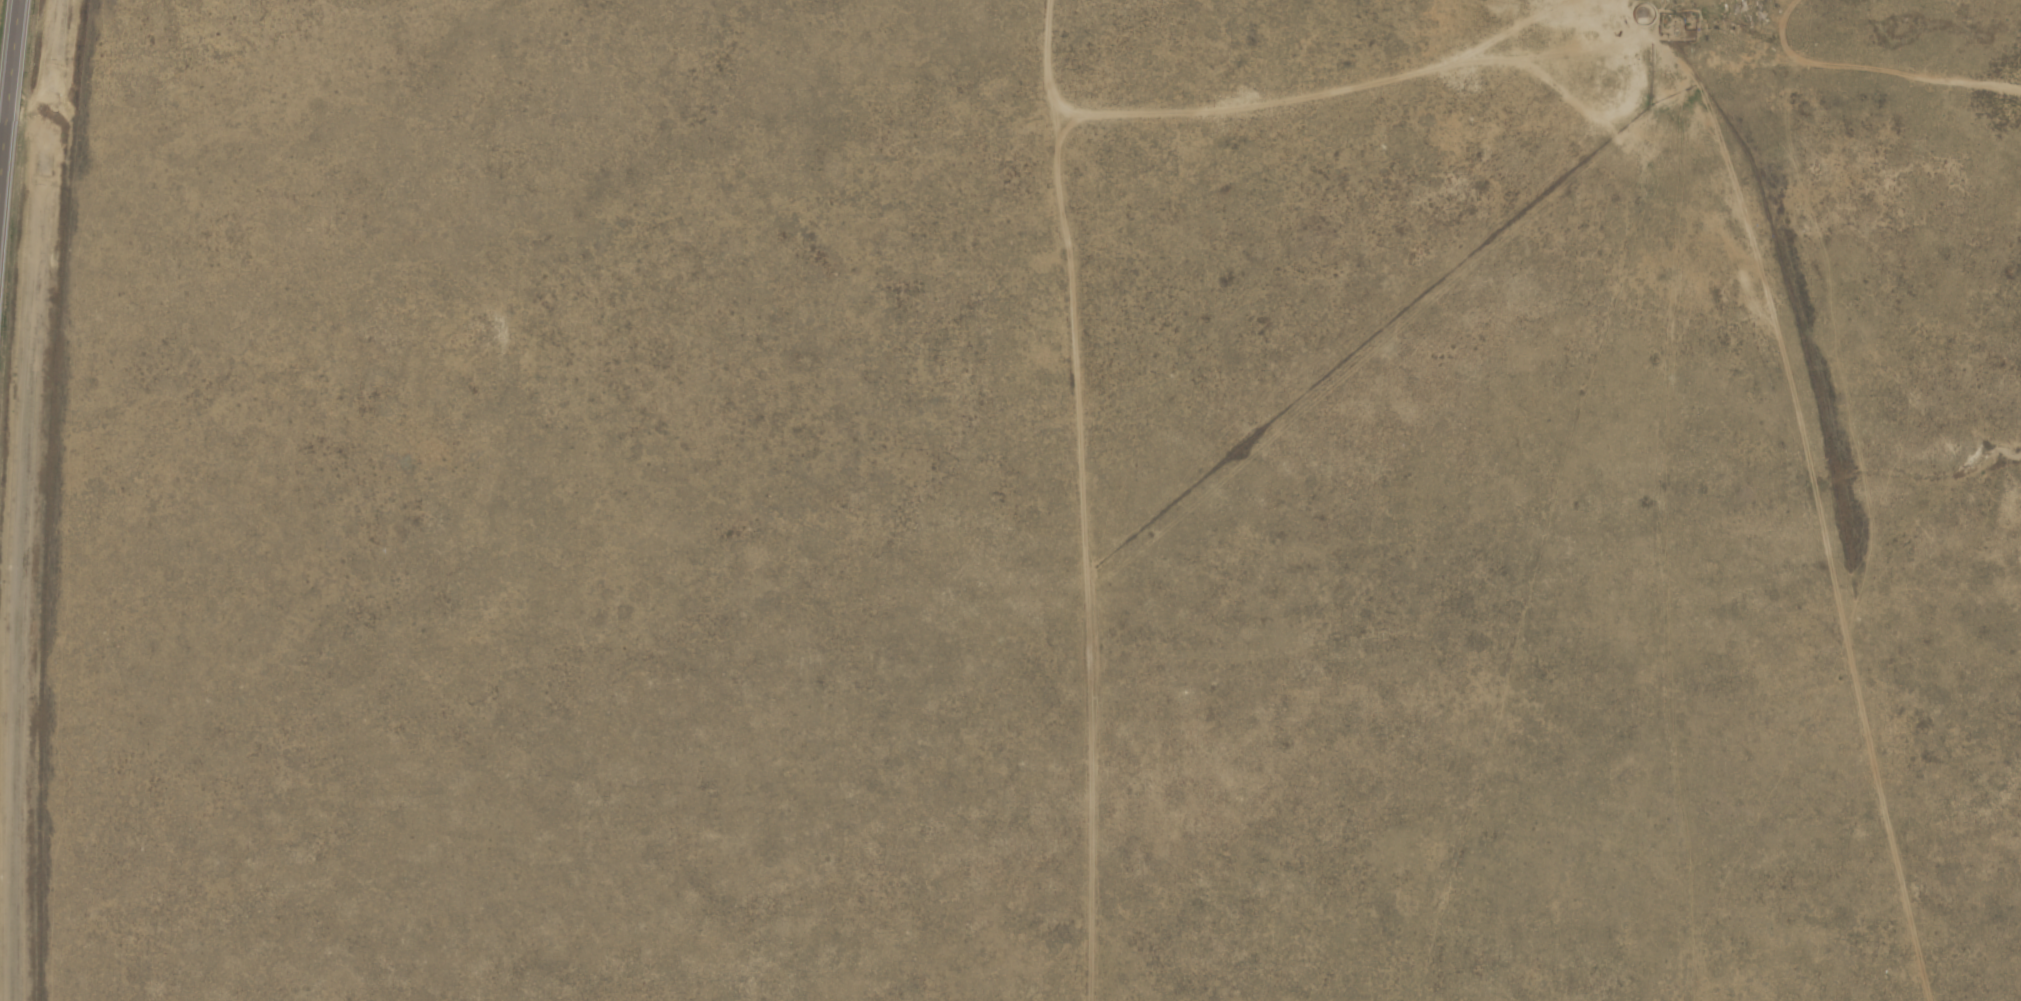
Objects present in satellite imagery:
road: (3, 51)
road: (1297, 92)

